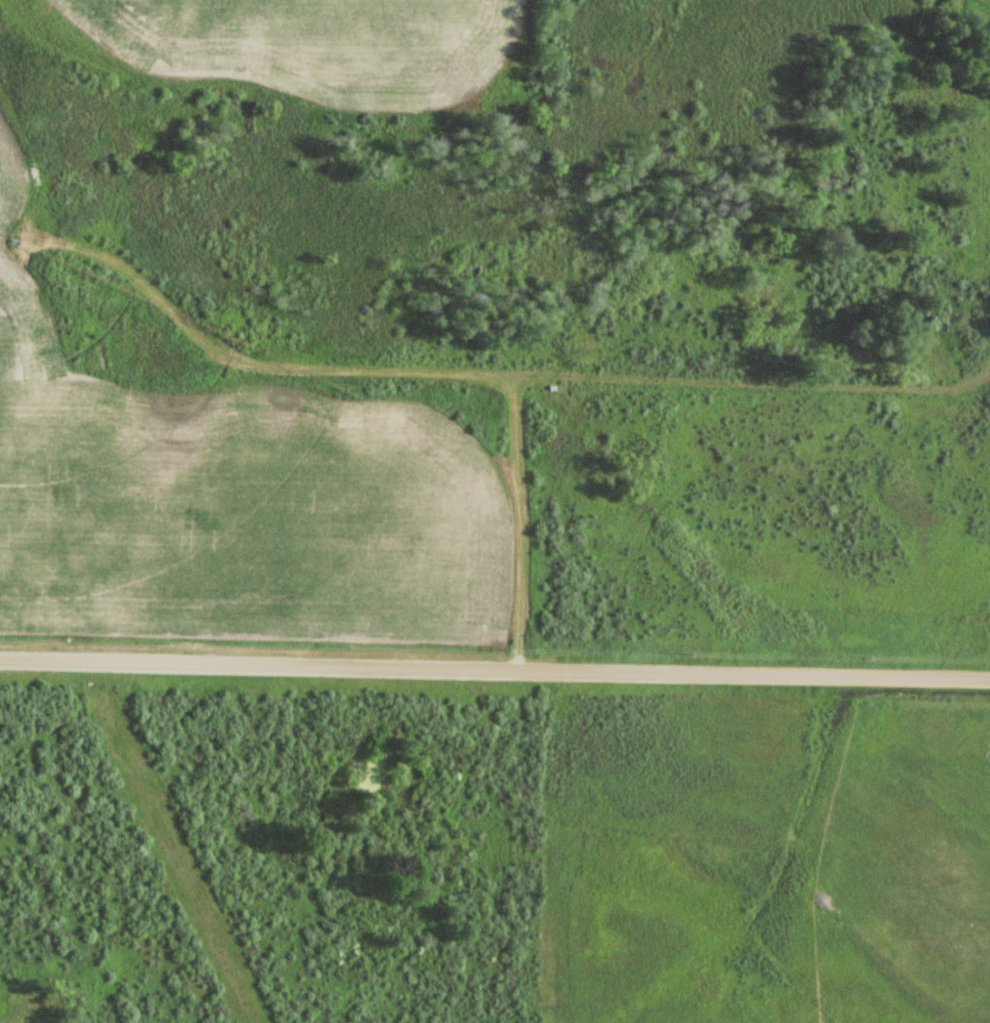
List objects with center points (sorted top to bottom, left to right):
road: (593, 406)
road: (489, 540)
road: (494, 675)

